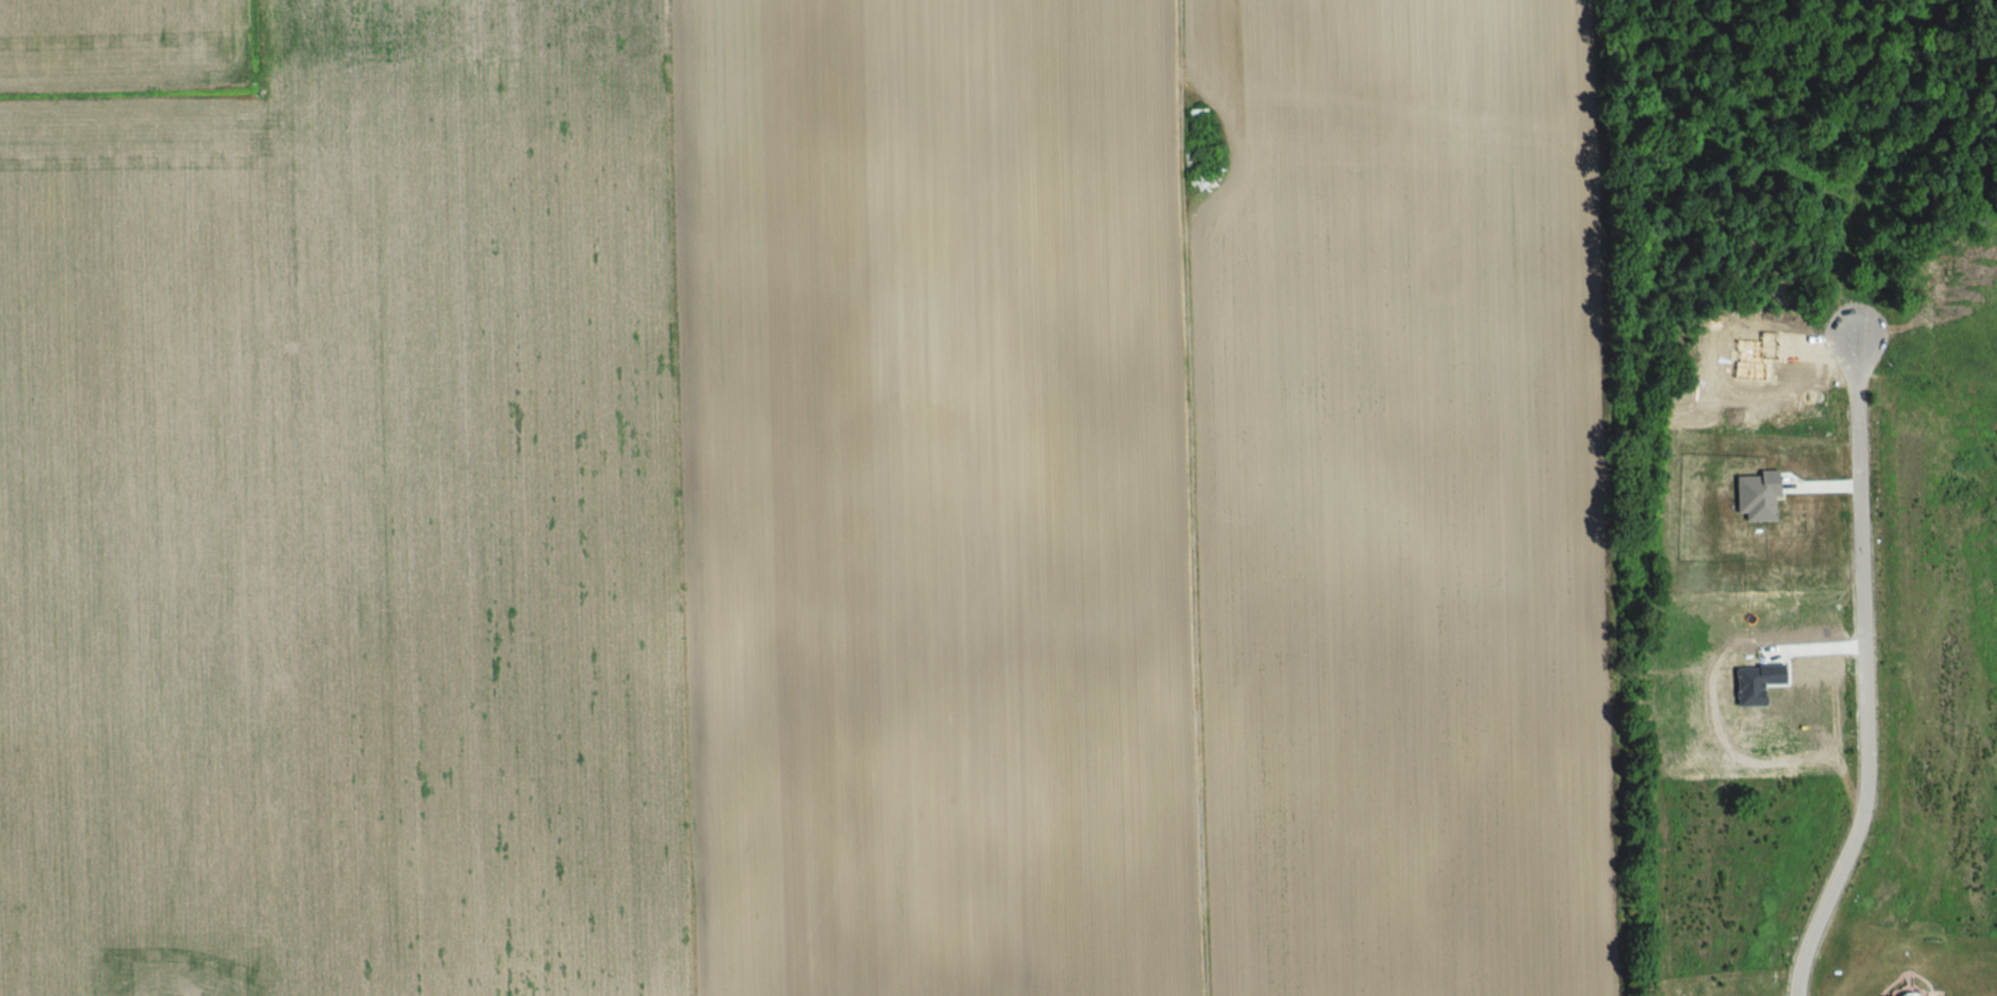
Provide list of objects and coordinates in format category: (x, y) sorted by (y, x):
crop: (121, 44)
crop: (814, 507)
road: (1865, 675)
building: (1902, 992)

